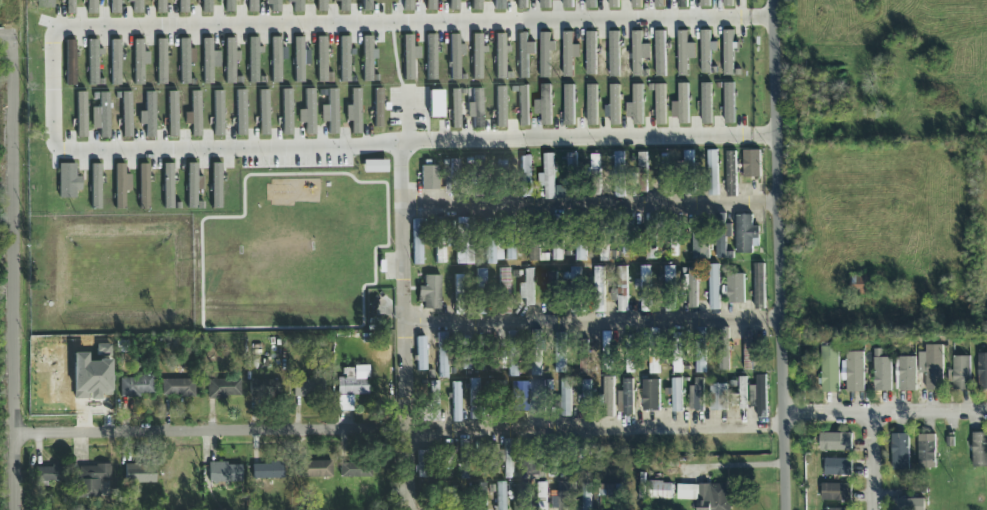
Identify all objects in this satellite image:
building: (705, 3)
building: (44, 4)
building: (499, 4)
building: (544, 4)
building: (568, 4)
building: (590, 4)
building: (613, 4)
building: (636, 4)
building: (659, 4)
building: (682, 4)
building: (728, 4)
building: (273, 5)
building: (342, 5)
building: (366, 5)
building: (407, 5)
building: (430, 5)
building: (453, 5)
building: (476, 5)
building: (522, 5)
building: (115, 6)
building: (137, 6)
building: (160, 6)
building: (182, 6)
building: (206, 6)
building: (229, 6)
building: (252, 6)
building: (297, 6)
building: (321, 6)
building: (70, 7)
building: (91, 7)
road: (13, 28)
road: (9, 44)
building: (707, 53)
building: (728, 53)
building: (569, 54)
building: (591, 54)
building: (660, 54)
building: (685, 54)
building: (500, 55)
building: (524, 55)
building: (545, 55)
building: (614, 55)
building: (639, 55)
building: (455, 56)
building: (431, 57)
building: (477, 57)
building: (276, 58)
building: (367, 58)
building: (408, 58)
building: (253, 59)
building: (345, 59)
building: (298, 60)
building: (93, 61)
building: (139, 61)
building: (160, 61)
building: (184, 61)
building: (207, 61)
building: (230, 61)
building: (70, 62)
building: (115, 62)
building: (322, 62)
road: (52, 97)
building: (436, 104)
building: (706, 104)
building: (729, 104)
building: (660, 105)
building: (683, 105)
building: (523, 106)
building: (544, 106)
building: (569, 106)
building: (592, 106)
building: (614, 106)
building: (500, 107)
building: (636, 107)
building: (378, 108)
building: (455, 108)
building: (354, 110)
building: (286, 111)
building: (308, 111)
building: (240, 112)
building: (263, 112)
building: (333, 112)
building: (218, 113)
building: (150, 114)
building: (172, 114)
building: (194, 114)
building: (81, 115)
building: (126, 115)
building: (101, 116)
building: (752, 164)
building: (405, 165)
building: (475, 165)
building: (375, 166)
building: (502, 166)
building: (643, 173)
building: (713, 173)
building: (667, 174)
building: (690, 174)
building: (731, 174)
building: (573, 175)
building: (596, 175)
building: (619, 175)
building: (526, 177)
building: (550, 177)
building: (429, 178)
building: (453, 178)
building: (70, 181)
building: (403, 184)
building: (121, 185)
building: (167, 186)
building: (193, 186)
building: (216, 186)
building: (95, 187)
building: (143, 187)
road: (590, 205)
building: (627, 234)
building: (746, 234)
building: (672, 236)
building: (721, 236)
building: (651, 237)
building: (700, 238)
building: (558, 239)
building: (581, 239)
building: (605, 239)
building: (440, 240)
building: (417, 242)
building: (534, 245)
building: (465, 246)
building: (494, 251)
building: (510, 252)
road: (781, 254)
building: (553, 280)
building: (865, 281)
road: (15, 283)
building: (529, 287)
building: (714, 287)
building: (759, 287)
building: (692, 288)
building: (646, 289)
building: (670, 289)
building: (735, 289)
building: (434, 290)
building: (576, 290)
building: (599, 290)
building: (623, 290)
road: (403, 291)
building: (482, 291)
building: (505, 291)
building: (459, 293)
road: (594, 322)
building: (630, 348)
building: (748, 350)
building: (608, 351)
building: (701, 351)
building: (654, 352)
building: (724, 352)
building: (466, 353)
building: (514, 353)
building: (536, 353)
building: (561, 353)
building: (421, 354)
building: (443, 355)
building: (584, 356)
building: (490, 357)
building: (934, 368)
building: (830, 370)
building: (855, 372)
building: (982, 372)
building: (907, 374)
building: (962, 374)
building: (882, 375)
building: (91, 377)
building: (137, 386)
building: (178, 387)
building: (351, 387)
building: (224, 388)
building: (272, 388)
building: (309, 388)
building: (496, 389)
building: (474, 393)
building: (743, 393)
building: (697, 394)
building: (587, 395)
building: (677, 395)
building: (520, 396)
building: (651, 396)
building: (628, 397)
building: (762, 397)
building: (565, 398)
building: (607, 398)
building: (718, 398)
building: (434, 399)
building: (457, 401)
road: (885, 413)
road: (598, 427)
road: (198, 433)
building: (836, 443)
building: (980, 450)
building: (927, 452)
building: (574, 453)
building: (901, 453)
building: (509, 458)
building: (465, 459)
building: (489, 459)
road: (874, 462)
building: (554, 463)
building: (422, 464)
building: (532, 464)
building: (443, 465)
building: (838, 468)
building: (315, 469)
building: (355, 469)
building: (268, 470)
road: (409, 470)
building: (225, 473)
building: (141, 474)
building: (50, 476)
building: (92, 479)
building: (436, 491)
building: (611, 491)
building: (660, 491)
building: (836, 492)
building: (476, 496)
building: (500, 496)
building: (567, 496)
building: (706, 496)
building: (521, 497)
building: (541, 497)
building: (587, 497)
building: (908, 505)
building: (839, 509)

